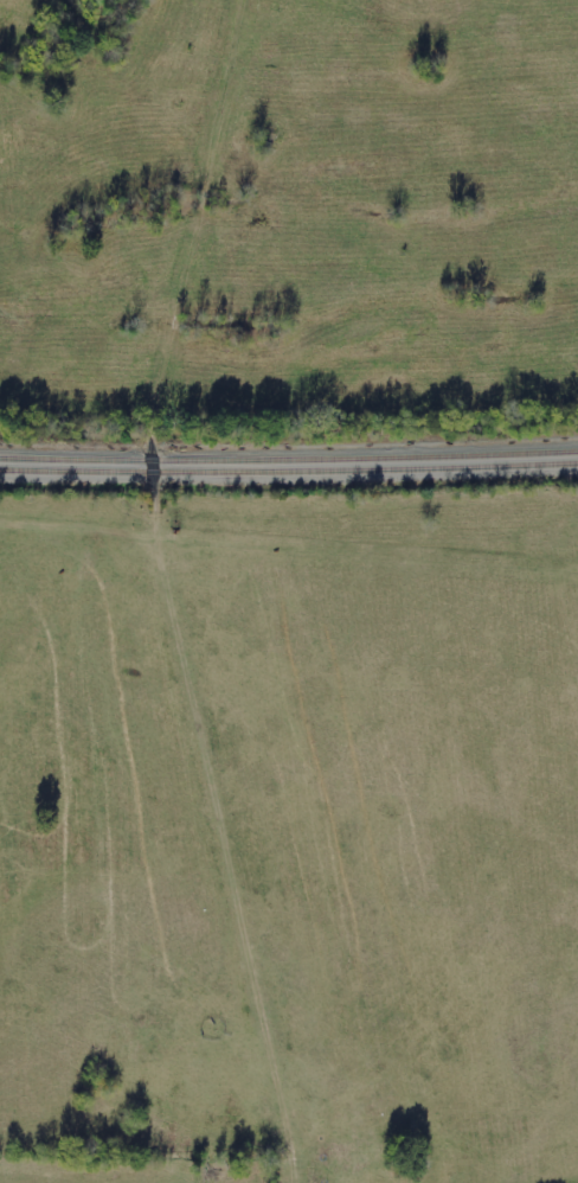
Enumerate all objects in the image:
railway: (289, 463)
railway: (289, 473)

